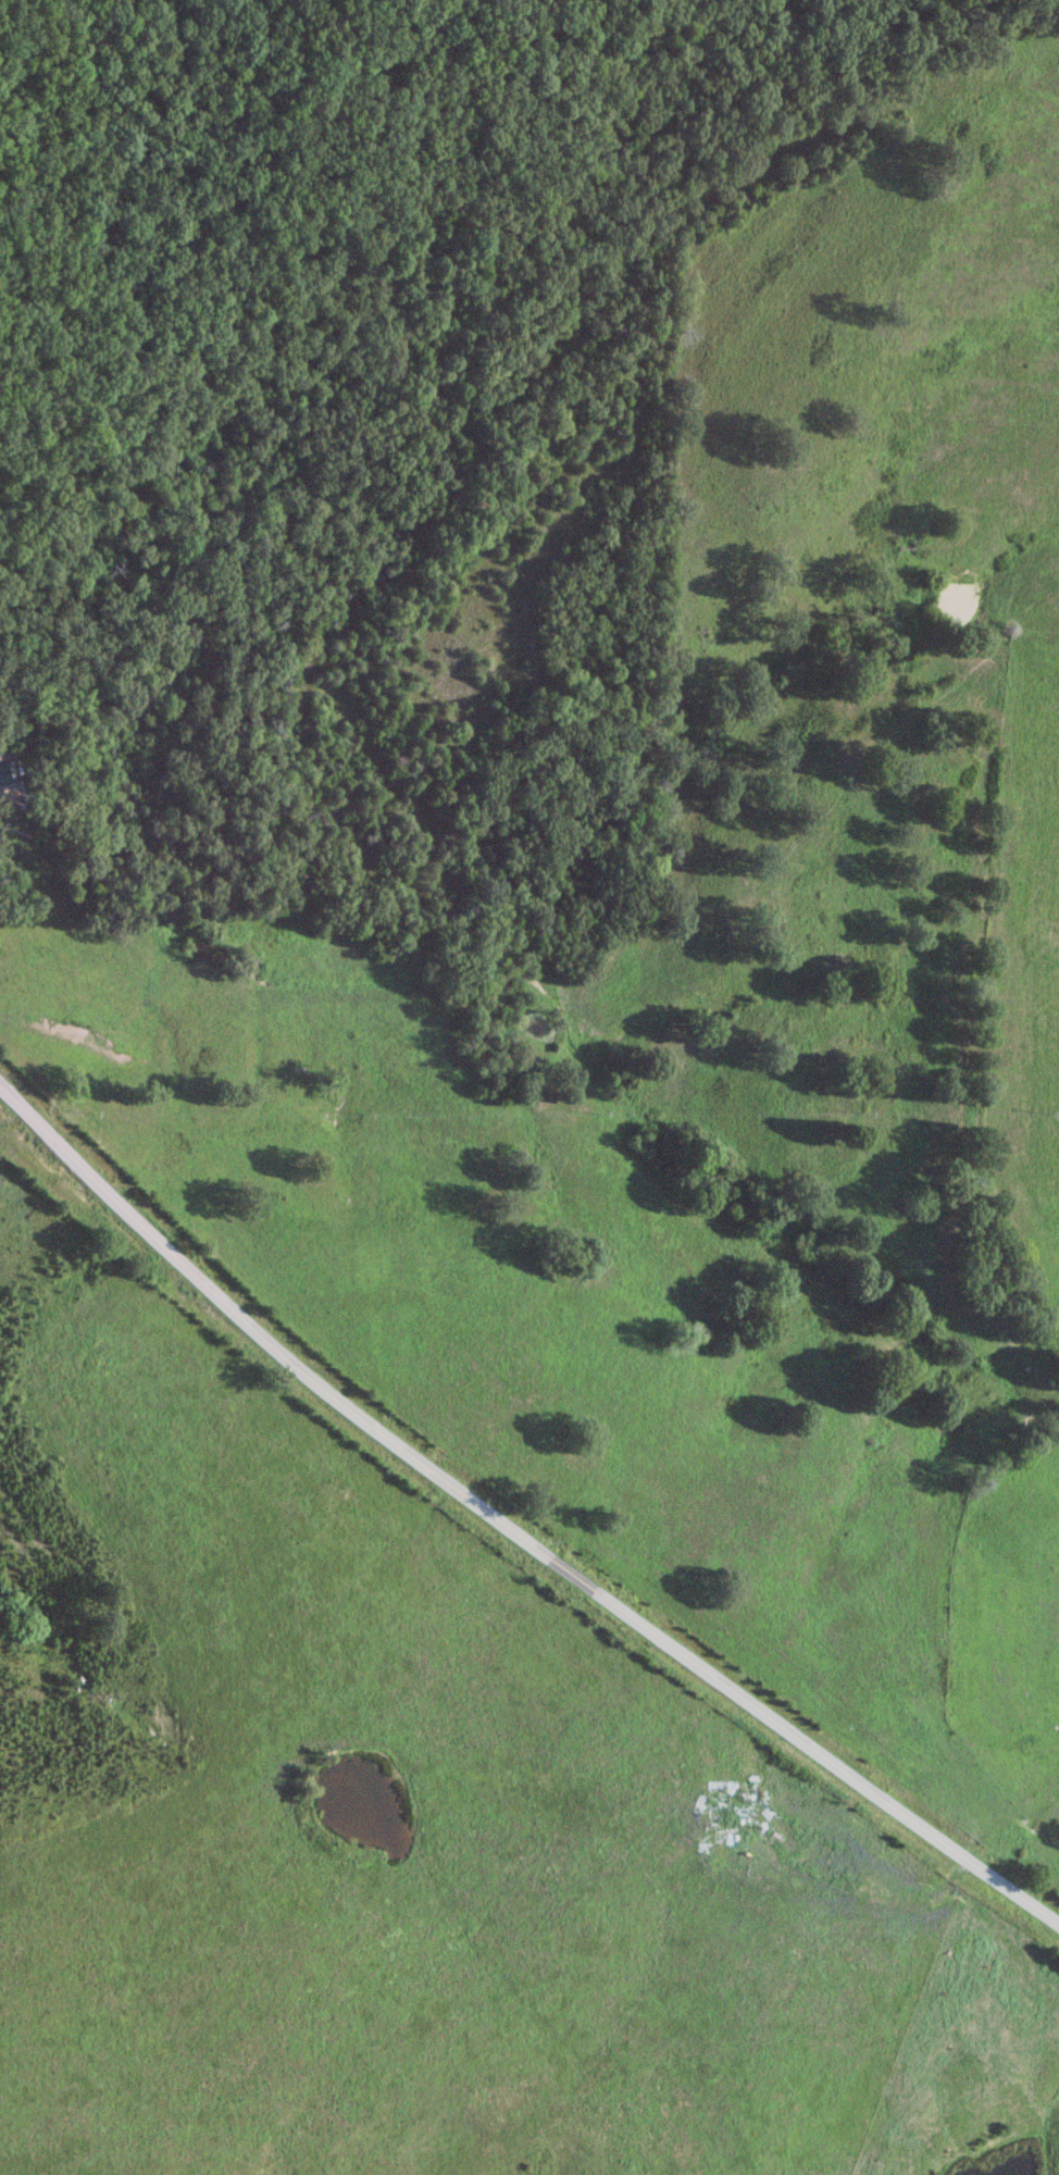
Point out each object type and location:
road: (498, 1571)

